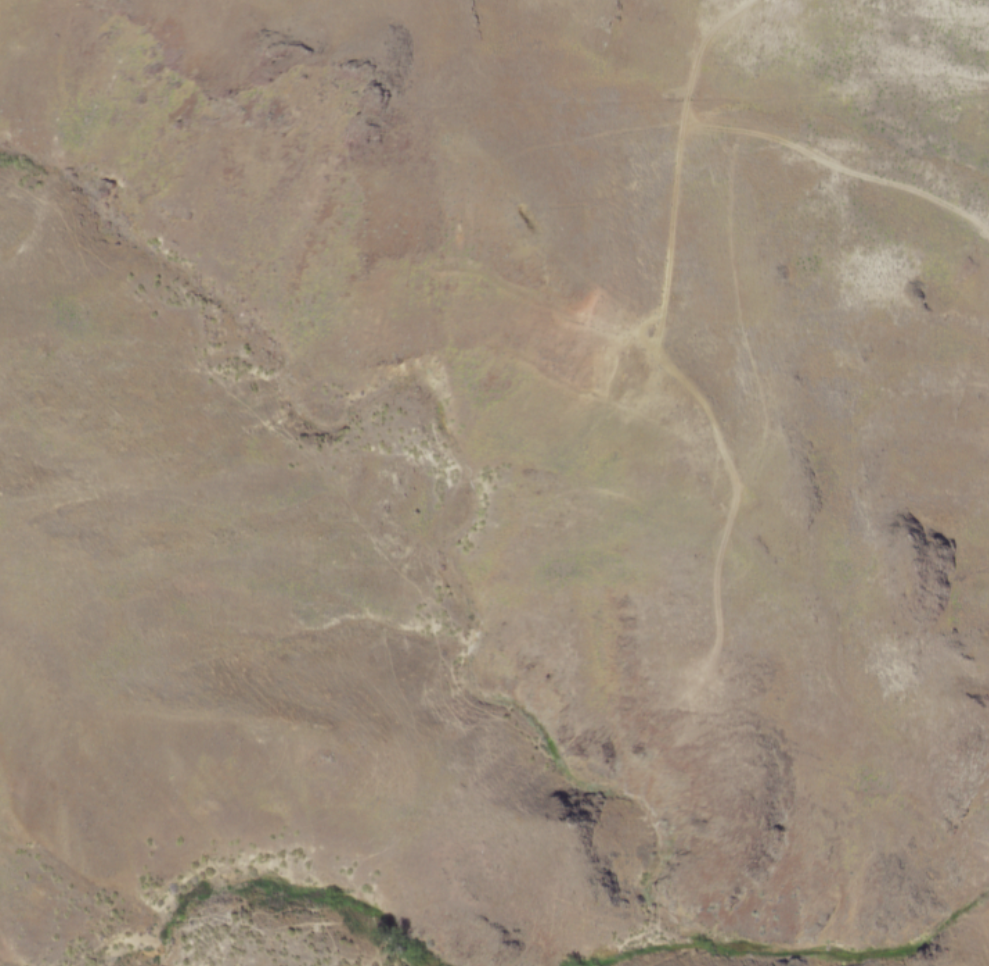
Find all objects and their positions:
road: (835, 161)
road: (640, 334)

